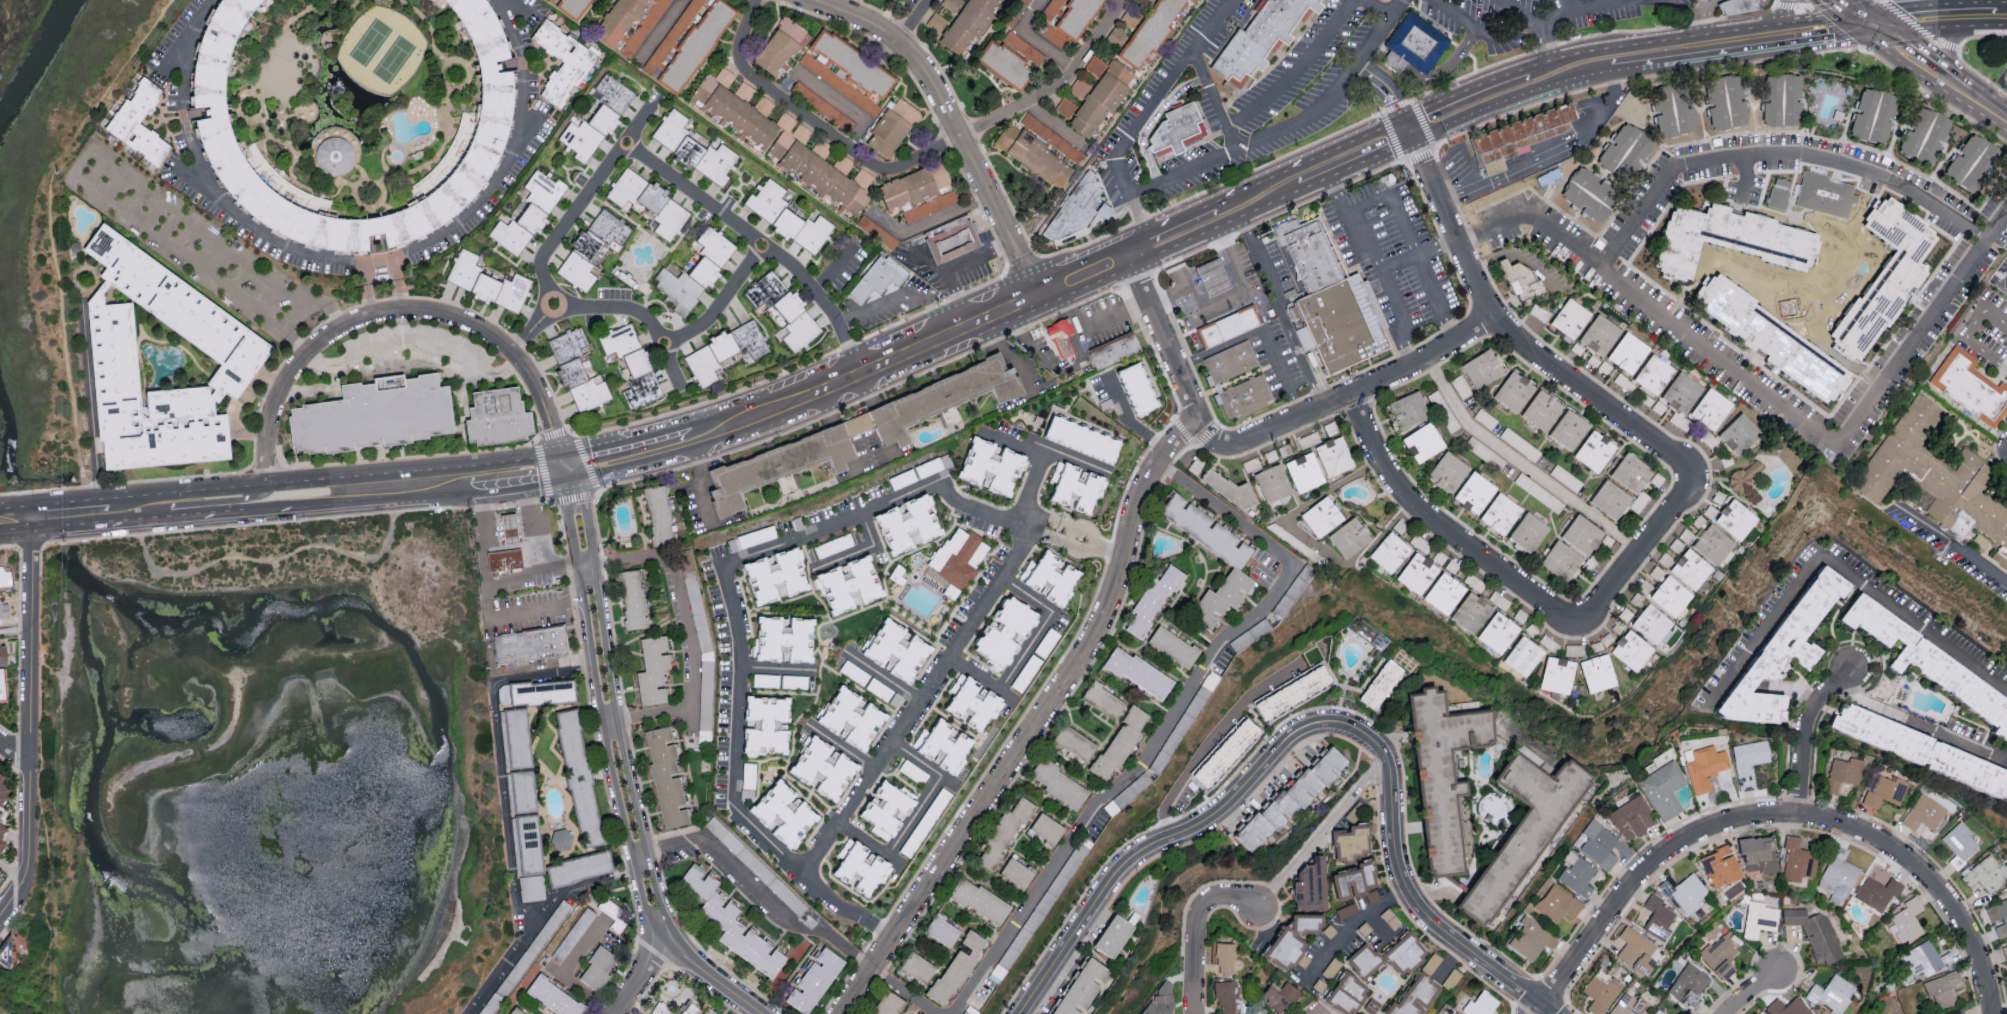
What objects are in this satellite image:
building: (551, 0)
road: (1564, 0)
road: (1998, 1)
road: (1600, 3)
building: (950, 4)
building: (1740, 7)
building: (574, 8)
road: (1375, 9)
road: (1396, 9)
road: (1792, 9)
road: (351, 10)
road: (1863, 11)
road: (1844, 12)
building: (1069, 14)
road: (1993, 15)
road: (1522, 16)
road: (1906, 18)
road: (1924, 19)
building: (619, 21)
road: (1706, 21)
road: (916, 22)
road: (1779, 22)
traffic signals: (1870, 23)
building: (967, 24)
building: (642, 27)
road: (660, 27)
road: (1814, 28)
building: (1150, 31)
road: (1478, 33)
road: (1545, 33)
road: (1843, 36)
road: (1035, 38)
building: (1266, 39)
building: (687, 41)
park: (370, 43)
building: (1416, 43)
road: (1949, 44)
road: (1685, 45)
road: (1945, 45)
building: (780, 46)
park: (381, 50)
park: (284, 58)
park: (393, 60)
building: (560, 60)
building: (1004, 64)
building: (1095, 65)
road: (1292, 68)
road: (1564, 69)
building: (847, 70)
road: (1938, 71)
road: (470, 73)
road: (1428, 76)
building: (1079, 87)
road: (258, 88)
building: (744, 90)
building: (612, 92)
road: (830, 94)
road: (1388, 94)
building: (1102, 96)
road: (1212, 99)
park: (349, 101)
building: (1725, 101)
building: (821, 105)
building: (735, 106)
building: (1065, 106)
road: (236, 107)
road: (1466, 108)
building: (1673, 109)
building: (1873, 115)
road: (1141, 116)
road: (447, 120)
road: (950, 120)
building: (137, 123)
building: (488, 126)
building: (891, 127)
building: (587, 131)
road: (1278, 131)
traffic signals: (1414, 131)
building: (1181, 132)
building: (1923, 134)
building: (1522, 138)
road: (356, 148)
building: (694, 148)
building: (1624, 152)
building: (1032, 155)
road: (1357, 155)
building: (334, 156)
road: (1776, 157)
building: (1533, 159)
road: (82, 160)
road: (912, 163)
building: (1972, 163)
building: (818, 168)
road: (339, 182)
building: (913, 185)
building: (543, 190)
building: (1822, 192)
building: (1589, 193)
road: (1260, 197)
building: (1775, 198)
building: (648, 201)
building: (925, 205)
building: (1081, 210)
park: (53, 214)
building: (787, 217)
road: (927, 219)
road: (1373, 219)
road: (167, 225)
road: (735, 225)
building: (518, 228)
road: (52, 229)
road: (566, 230)
road: (1183, 230)
building: (876, 231)
building: (1729, 238)
building: (955, 241)
road: (1410, 244)
building: (591, 248)
road: (1138, 250)
road: (1417, 251)
building: (710, 257)
building: (1307, 258)
road: (1375, 258)
road: (352, 260)
road: (952, 266)
road: (833, 268)
building: (1885, 276)
building: (876, 277)
building: (1211, 280)
building: (486, 282)
building: (1521, 282)
road: (396, 284)
road: (364, 287)
building: (677, 290)
road: (1233, 294)
park: (1822, 294)
road: (900, 296)
road: (722, 306)
road: (1279, 308)
road: (297, 309)
building: (784, 310)
road: (397, 313)
road: (640, 315)
building: (1569, 318)
building: (1342, 325)
road: (839, 327)
road: (1506, 327)
road: (1090, 329)
building: (1228, 329)
road: (1263, 329)
road: (1966, 335)
building: (1060, 337)
road: (1163, 337)
building: (1598, 337)
building: (749, 339)
building: (1772, 340)
road: (409, 342)
building: (566, 344)
building: (1113, 351)
building: (1627, 352)
parking lot: (415, 354)
road: (851, 356)
building: (709, 358)
road: (1045, 359)
building: (159, 361)
building: (632, 365)
building: (1482, 368)
road: (851, 373)
building: (1652, 374)
building: (1237, 383)
building: (1970, 386)
building: (1136, 388)
building: (1513, 391)
building: (1678, 394)
road: (1346, 397)
road: (1769, 397)
road: (91, 401)
building: (932, 401)
parking lot: (1123, 405)
building: (1711, 409)
building: (1407, 410)
building: (1541, 410)
building: (377, 418)
road: (1128, 419)
building: (501, 420)
building: (1568, 430)
building: (1738, 434)
building: (1081, 439)
building: (1308, 439)
building: (1422, 442)
building: (1594, 451)
building: (1333, 456)
road: (1072, 461)
building: (1251, 464)
road: (1522, 465)
traffic signals: (565, 466)
building: (775, 466)
building: (990, 466)
road: (1033, 466)
road: (415, 471)
road: (545, 472)
building: (1303, 472)
building: (1447, 472)
building: (1631, 473)
building: (1935, 477)
road: (697, 478)
building: (1656, 479)
building: (1747, 480)
road: (503, 483)
building: (1272, 483)
building: (1075, 486)
road: (217, 488)
building: (1227, 489)
building: (1473, 493)
road: (570, 495)
road: (138, 496)
road: (373, 498)
building: (1610, 499)
road: (214, 501)
building: (1638, 501)
road: (66, 507)
road: (212, 513)
building: (1500, 514)
building: (658, 515)
building: (1321, 516)
road: (13, 517)
road: (65, 518)
road: (131, 518)
building: (1735, 519)
road: (295, 520)
building: (1698, 520)
building: (906, 524)
road: (1438, 525)
building: (505, 530)
road: (508, 532)
building: (1528, 532)
building: (1581, 535)
road: (1039, 537)
road: (1092, 537)
building: (1349, 537)
building: (1981, 540)
building: (1713, 544)
road: (1951, 544)
road: (1077, 549)
road: (533, 550)
road: (860, 550)
road: (1642, 550)
building: (1389, 552)
building: (958, 556)
road: (482, 559)
road: (274, 561)
road: (598, 561)
building: (1561, 561)
road: (1836, 561)
building: (507, 562)
building: (1235, 567)
building: (1690, 569)
building: (1656, 572)
building: (1417, 573)
building: (5, 576)
building: (775, 576)
building: (1050, 576)
building: (1474, 581)
building: (848, 585)
building: (950, 590)
building: (1444, 593)
building: (1671, 596)
building: (631, 599)
building: (1151, 599)
building: (1499, 600)
building: (4, 608)
road: (732, 609)
building: (1471, 612)
building: (1651, 623)
building: (1003, 630)
building: (1497, 633)
road: (15, 634)
building: (782, 638)
building: (1549, 643)
building: (1172, 645)
building: (533, 647)
building: (896, 647)
building: (1786, 648)
building: (1575, 649)
road: (1025, 650)
building: (1631, 650)
building: (2, 653)
building: (1523, 656)
building: (1929, 663)
road: (773, 668)
building: (652, 670)
building: (1137, 671)
road: (40, 672)
road: (55, 672)
building: (1597, 673)
building: (1557, 674)
road: (882, 675)
building: (1379, 683)
building: (1, 684)
building: (541, 690)
building: (1291, 690)
road: (920, 694)
building: (1102, 698)
road: (29, 699)
building: (972, 701)
road: (615, 704)
road: (599, 709)
road: (655, 715)
building: (851, 715)
road: (1170, 719)
road: (1917, 721)
building: (765, 723)
road: (1039, 725)
road: (1805, 731)
building: (703, 733)
road: (1215, 734)
building: (516, 737)
building: (1120, 740)
building: (943, 744)
road: (840, 746)
building: (1224, 750)
road: (13, 751)
building: (1924, 751)
building: (1748, 761)
building: (1704, 765)
building: (823, 766)
building: (1442, 771)
building: (1843, 773)
building: (0, 776)
building: (577, 776)
building: (665, 776)
park: (265, 777)
building: (1057, 782)
building: (1663, 788)
building: (2, 790)
building: (521, 790)
building: (1885, 791)
building: (1292, 797)
building: (886, 808)
road: (505, 809)
building: (784, 811)
road: (913, 815)
building: (1924, 815)
building: (1632, 817)
building: (1045, 827)
building: (2, 828)
building: (1522, 830)
building: (1003, 831)
road: (1321, 831)
building: (560, 838)
building: (1351, 839)
building: (1, 843)
building: (527, 843)
building: (1598, 843)
building: (1959, 843)
building: (1758, 853)
road: (1395, 856)
road: (40, 857)
road: (1130, 858)
building: (1798, 859)
building: (577, 866)
building: (860, 866)
building: (1719, 866)
building: (1016, 871)
road: (12, 873)
building: (1986, 873)
building: (1576, 874)
road: (1637, 874)
building: (1838, 876)
road: (1925, 880)
building: (1356, 881)
building: (1310, 885)
building: (531, 887)
road: (1429, 890)
building: (1878, 890)
building: (1684, 891)
road: (12, 898)
building: (978, 899)
building: (1558, 903)
road: (42, 909)
road: (27, 912)
building: (1998, 916)
building: (1658, 917)
building: (1389, 918)
building: (1759, 918)
building: (729, 920)
road: (789, 920)
building: (1906, 920)
building: (1307, 922)
road: (1346, 928)
road: (1376, 928)
building: (941, 929)
road: (1192, 930)
road: (880, 932)
building: (1815, 933)
building: (1113, 935)
building: (1530, 937)
building: (1284, 948)
building: (1635, 948)
building: (2004, 950)
building: (1405, 953)
building: (1719, 955)
building: (1224, 957)
building: (1364, 959)
building: (1924, 959)
road: (505, 964)
building: (916, 966)
building: (956, 966)
building: (596, 967)
building: (1440, 970)
building: (814, 978)
road: (636, 979)
road: (706, 979)
building: (1689, 985)
building: (1080, 986)
building: (1943, 989)
building: (1601, 990)
road: (1750, 990)
building: (1347, 992)
building: (1832, 993)
building: (1225, 995)
building: (1279, 995)
building: (1415, 995)
building: (553, 996)
building: (1159, 1001)
building: (887, 1003)
building: (1480, 1003)
building: (1787, 1007)
building: (673, 1008)
building: (1633, 1008)
building: (708, 1011)
building: (1659, 1011)
building: (512, 1012)
road: (1318, 1012)
building: (1452, 1012)
building: (1956, 1012)
building: (1268, 1013)
building: (1757, 1013)

